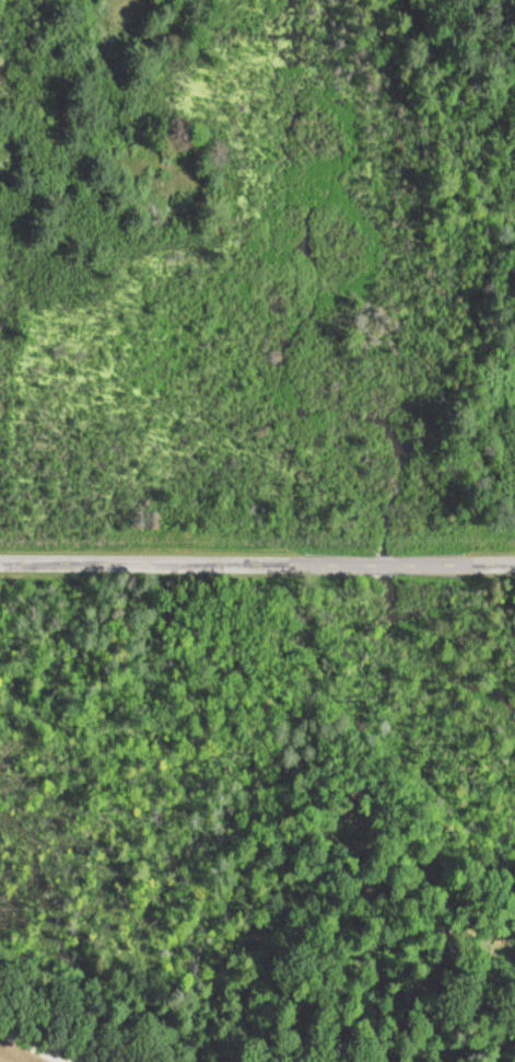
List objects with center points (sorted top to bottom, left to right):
road: (257, 557)
road: (257, 1037)

